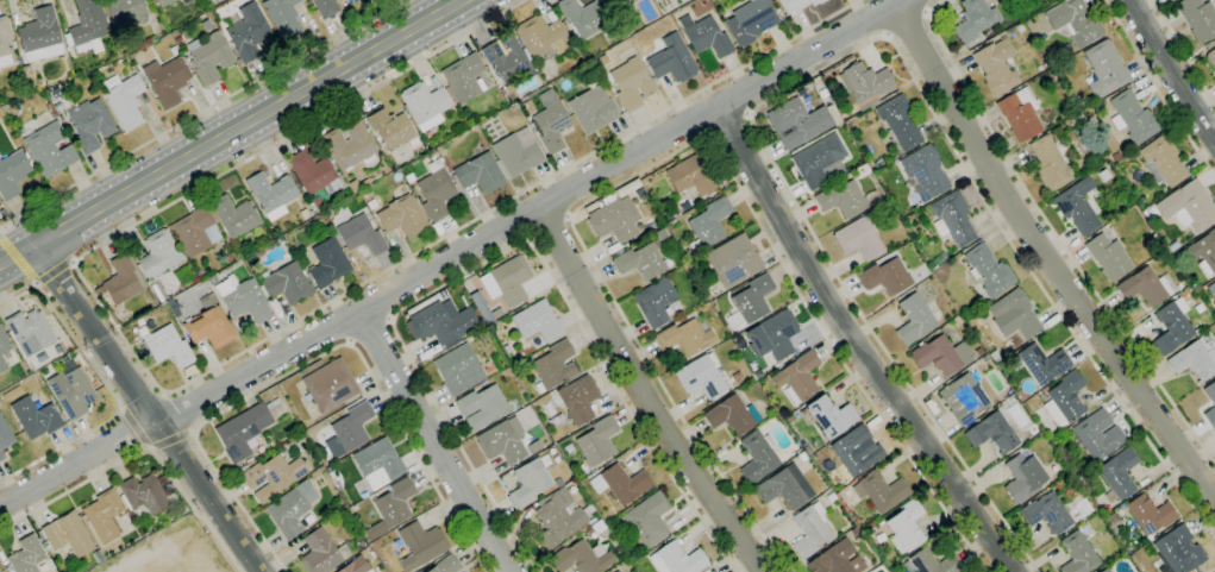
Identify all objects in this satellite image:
building: (1036, 1)
building: (163, 2)
building: (796, 4)
building: (616, 5)
building: (325, 7)
building: (125, 13)
building: (582, 17)
building: (283, 18)
building: (973, 19)
building: (1197, 19)
building: (750, 21)
building: (1075, 21)
building: (205, 25)
road: (908, 25)
building: (87, 27)
building: (1019, 27)
building: (246, 32)
building: (704, 36)
building: (39, 38)
building: (541, 38)
building: (177, 40)
building: (4, 43)
building: (12, 45)
building: (571, 48)
building: (174, 50)
road: (1184, 51)
building: (209, 57)
building: (507, 57)
building: (186, 58)
road: (840, 58)
building: (671, 59)
building: (1211, 59)
building: (996, 67)
building: (1104, 69)
road: (1170, 70)
building: (463, 77)
building: (167, 81)
building: (864, 82)
building: (631, 84)
road: (1158, 89)
building: (55, 93)
building: (123, 100)
building: (868, 103)
building: (1077, 103)
building: (425, 105)
building: (527, 107)
building: (591, 109)
road: (198, 112)
building: (1067, 112)
building: (51, 113)
building: (1019, 114)
building: (1132, 118)
building: (550, 121)
building: (1071, 121)
building: (800, 122)
building: (898, 122)
building: (89, 124)
building: (390, 128)
road: (727, 128)
road: (231, 132)
building: (351, 145)
building: (49, 150)
road: (681, 151)
building: (516, 152)
building: (1129, 155)
building: (1115, 156)
building: (818, 159)
building: (1163, 159)
building: (877, 162)
building: (1050, 164)
building: (12, 172)
building: (312, 172)
building: (925, 172)
building: (480, 174)
building: (691, 175)
building: (364, 183)
building: (352, 186)
building: (434, 191)
building: (271, 194)
building: (363, 194)
building: (841, 199)
building: (317, 203)
building: (1077, 206)
building: (1188, 206)
building: (236, 216)
building: (402, 216)
building: (952, 219)
building: (614, 220)
building: (708, 224)
road: (549, 230)
building: (195, 232)
building: (358, 234)
building: (660, 234)
road: (1057, 235)
building: (858, 239)
building: (1172, 246)
building: (296, 247)
road: (501, 251)
building: (1204, 252)
building: (158, 254)
road: (452, 256)
building: (1107, 256)
building: (227, 258)
road: (1045, 259)
building: (733, 260)
road: (18, 262)
building: (639, 262)
building: (327, 263)
road: (55, 270)
building: (989, 271)
building: (885, 277)
building: (121, 279)
building: (211, 279)
building: (507, 281)
building: (284, 284)
building: (1146, 287)
building: (1211, 289)
building: (243, 298)
building: (752, 298)
building: (655, 302)
building: (496, 313)
building: (1014, 314)
building: (914, 320)
building: (440, 322)
building: (537, 322)
building: (208, 323)
building: (1172, 326)
building: (30, 332)
road: (371, 332)
building: (685, 337)
building: (772, 337)
building: (4, 341)
road: (856, 344)
building: (168, 346)
building: (506, 350)
building: (538, 352)
building: (978, 352)
building: (942, 356)
building: (994, 356)
building: (984, 357)
building: (64, 358)
building: (528, 358)
building: (1196, 358)
road: (312, 360)
building: (1040, 363)
building: (2, 364)
building: (46, 366)
building: (553, 366)
road: (215, 367)
building: (458, 370)
building: (701, 377)
building: (797, 377)
building: (330, 385)
road: (107, 388)
building: (71, 392)
road: (643, 394)
building: (1211, 397)
building: (963, 398)
building: (578, 400)
building: (1065, 400)
building: (275, 402)
building: (482, 407)
road: (148, 409)
building: (731, 415)
building: (829, 416)
building: (36, 417)
road: (136, 427)
building: (349, 430)
building: (243, 432)
building: (992, 433)
building: (5, 435)
building: (1095, 435)
road: (171, 440)
road: (433, 441)
building: (502, 441)
building: (597, 441)
building: (569, 448)
building: (806, 450)
road: (142, 451)
building: (851, 452)
building: (1, 457)
building: (801, 457)
building: (757, 458)
building: (378, 464)
building: (1117, 474)
building: (273, 477)
building: (1023, 477)
building: (528, 483)
building: (621, 483)
building: (784, 488)
building: (879, 491)
building: (142, 495)
building: (831, 497)
building: (390, 508)
building: (290, 509)
building: (1046, 514)
building: (1150, 514)
building: (104, 515)
building: (557, 518)
building: (647, 518)
building: (1111, 518)
building: (904, 527)
building: (809, 529)
building: (853, 530)
building: (68, 534)
building: (420, 545)
building: (1178, 551)
building: (321, 552)
building: (1077, 554)
building: (26, 555)
building: (98, 557)
building: (580, 559)
building: (678, 559)
building: (835, 559)
building: (931, 562)
building: (445, 565)
building: (356, 566)
building: (1104, 570)
road: (1211, 570)
building: (0, 571)
building: (614, 571)
building: (616, 571)
building: (706, 571)
building: (712, 571)
building: (965, 571)

